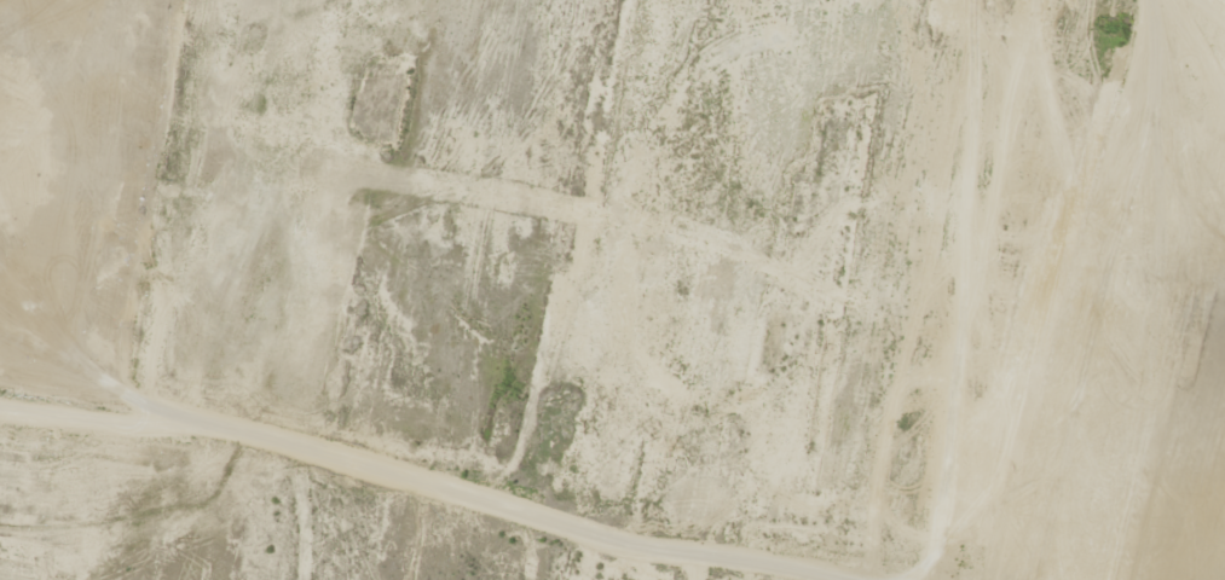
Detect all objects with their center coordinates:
road: (993, 167)

